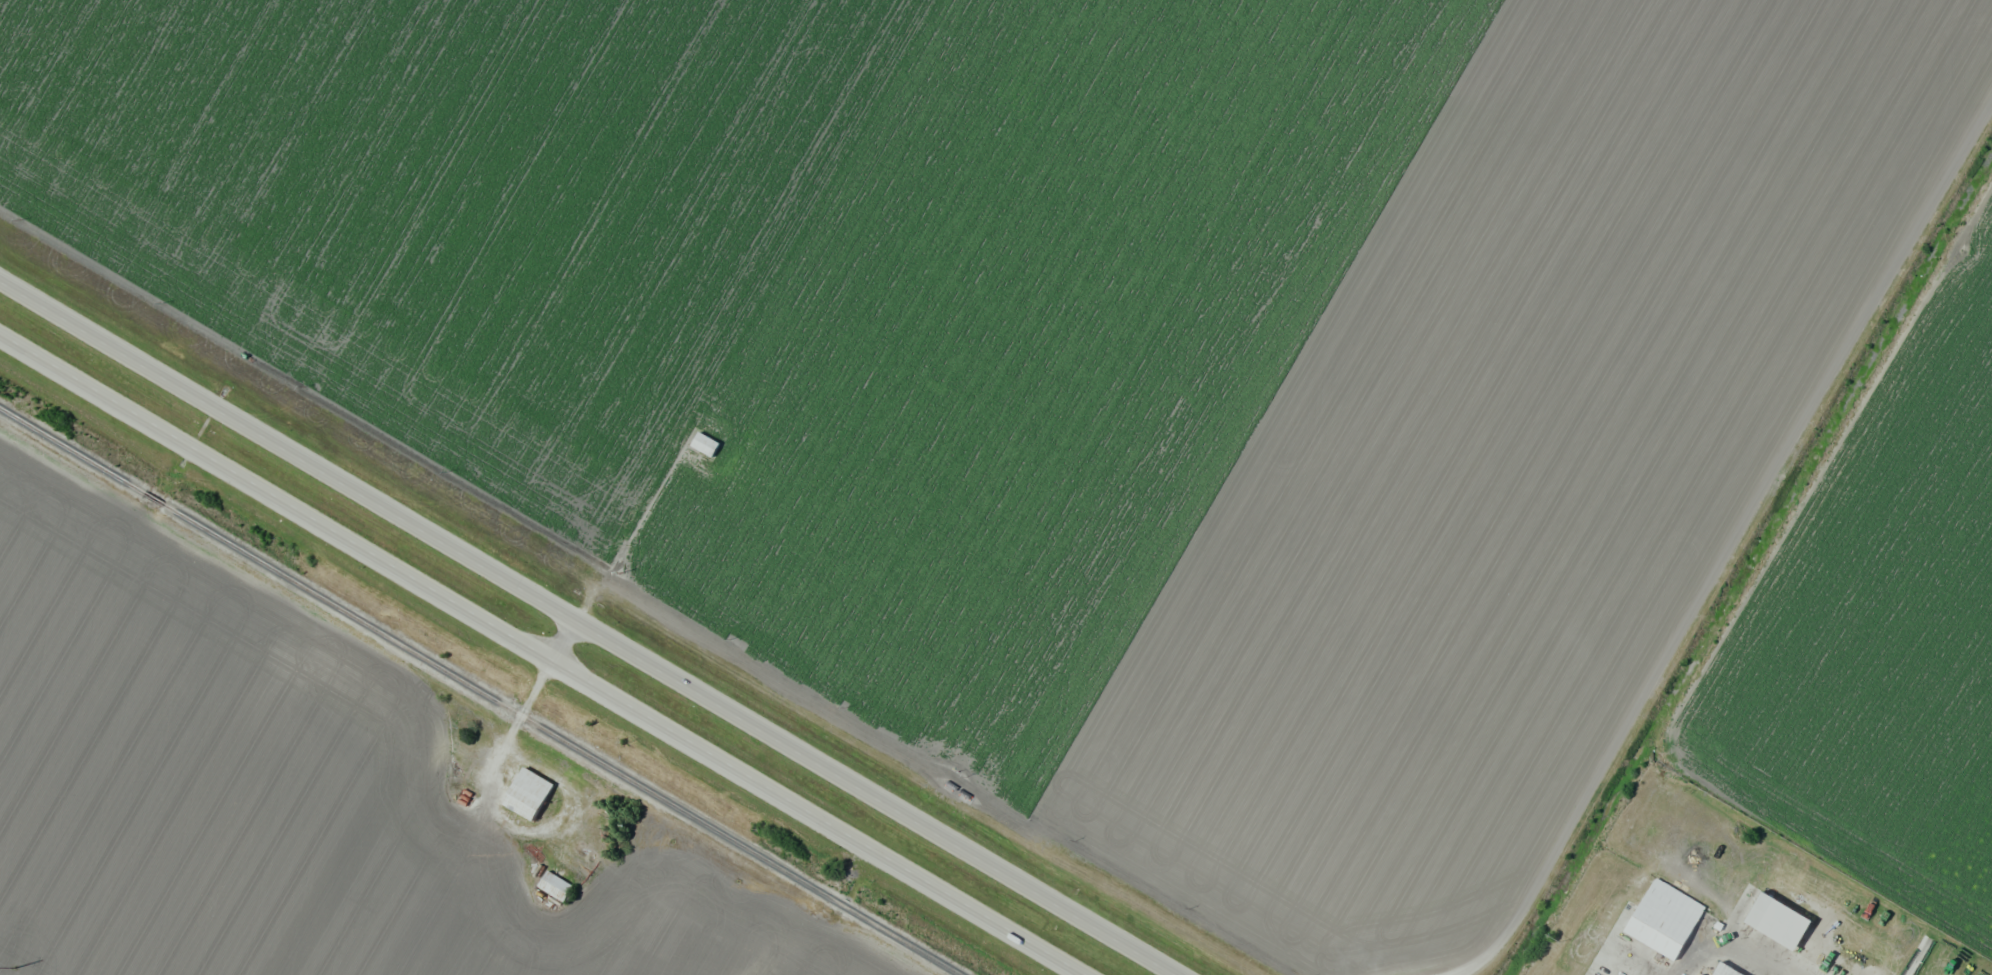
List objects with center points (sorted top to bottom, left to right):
building: (706, 448)
road: (1714, 573)
road: (594, 627)
road: (565, 639)
road: (541, 654)
railway: (480, 690)
building: (528, 798)
building: (553, 885)
building: (1663, 918)
building: (1779, 925)
road: (1716, 950)
power tower: (13, 967)
building: (1723, 970)
building: (1695, 974)

